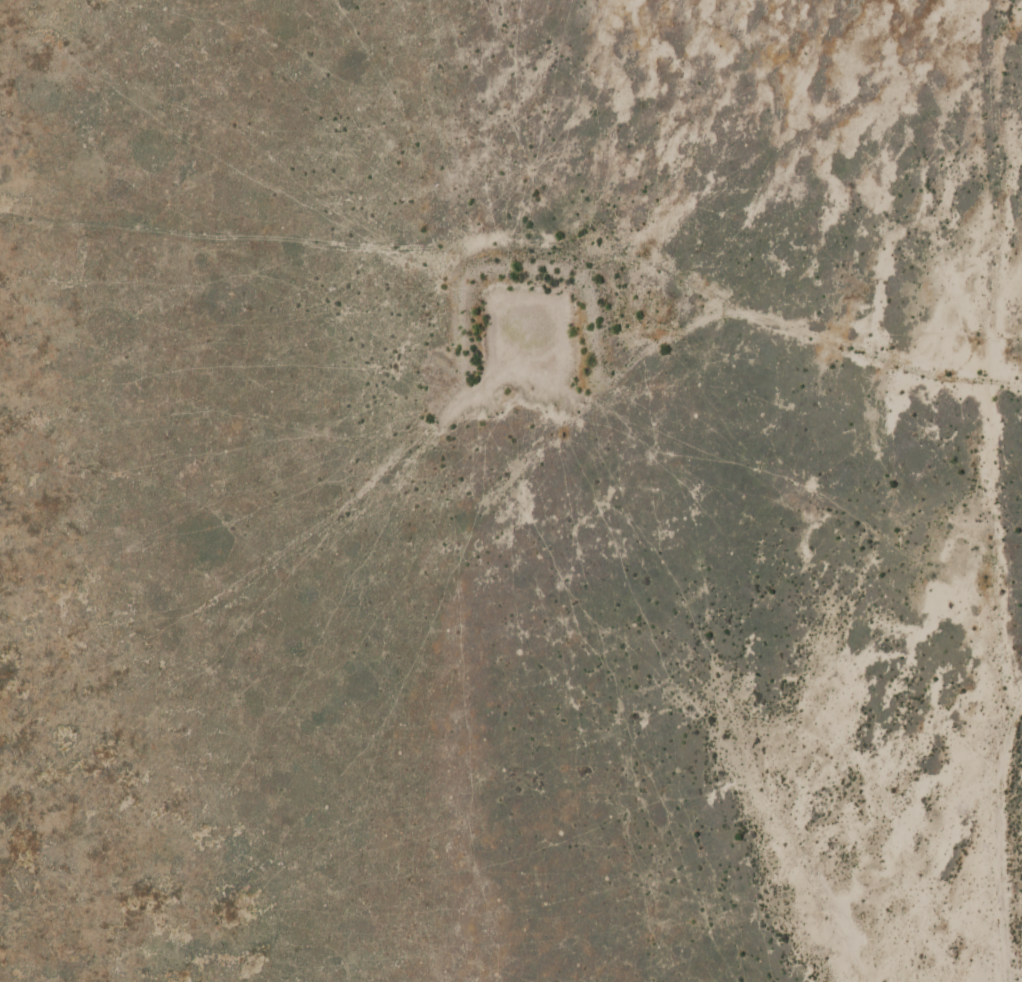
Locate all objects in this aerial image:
road: (922, 821)

